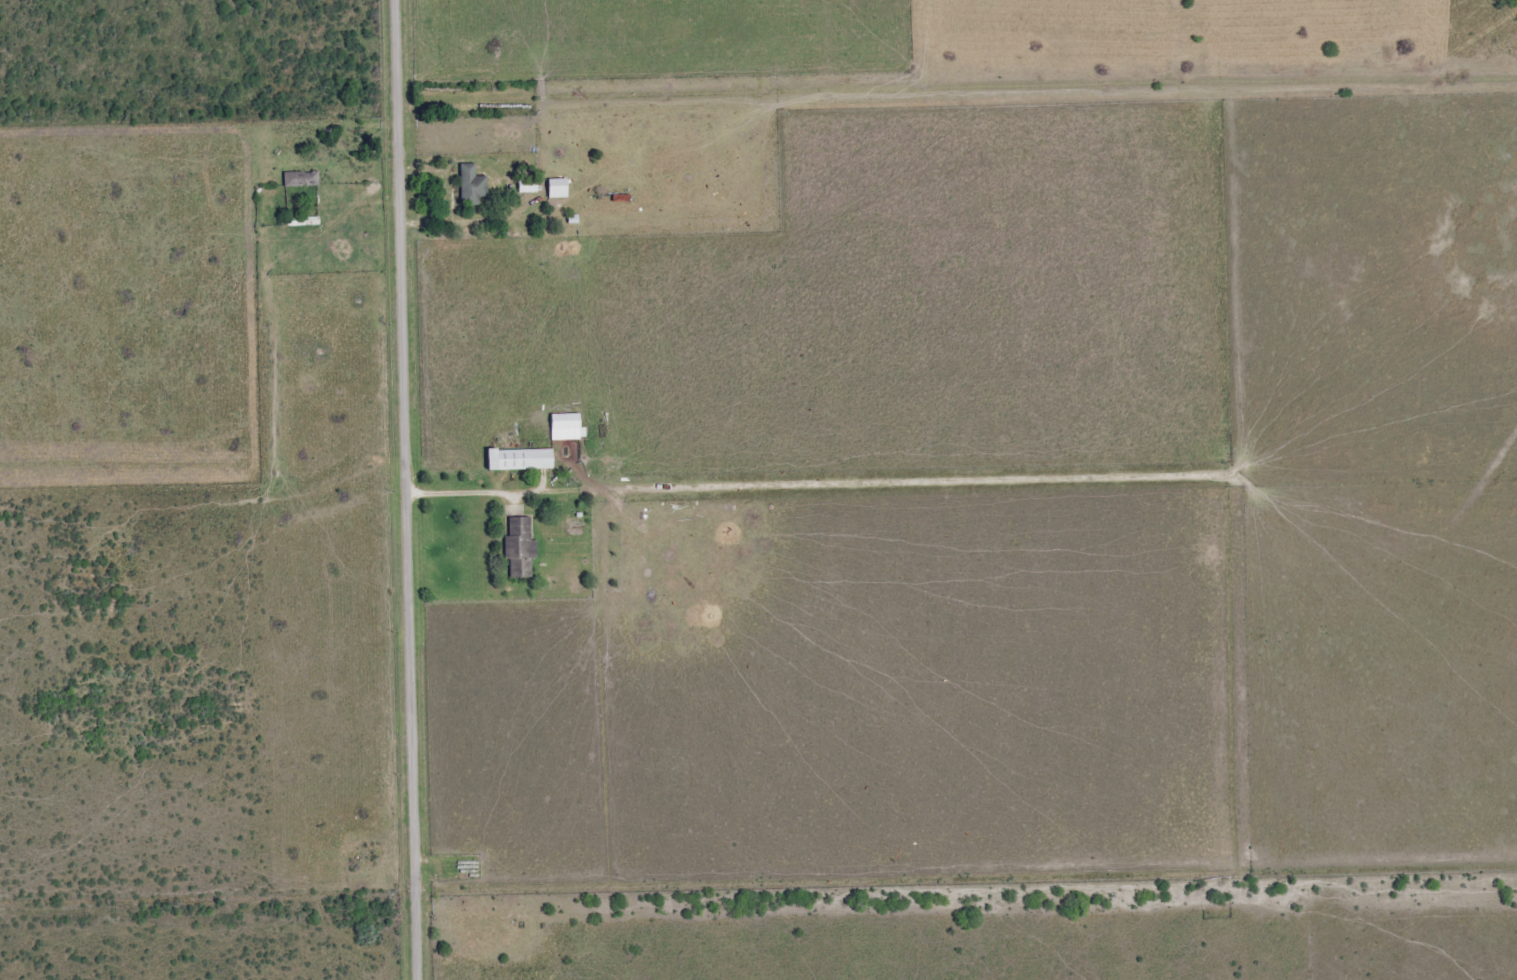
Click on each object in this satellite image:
building: (300, 179)
building: (470, 185)
building: (556, 188)
building: (565, 427)
building: (518, 460)
road: (407, 490)
building: (519, 549)

